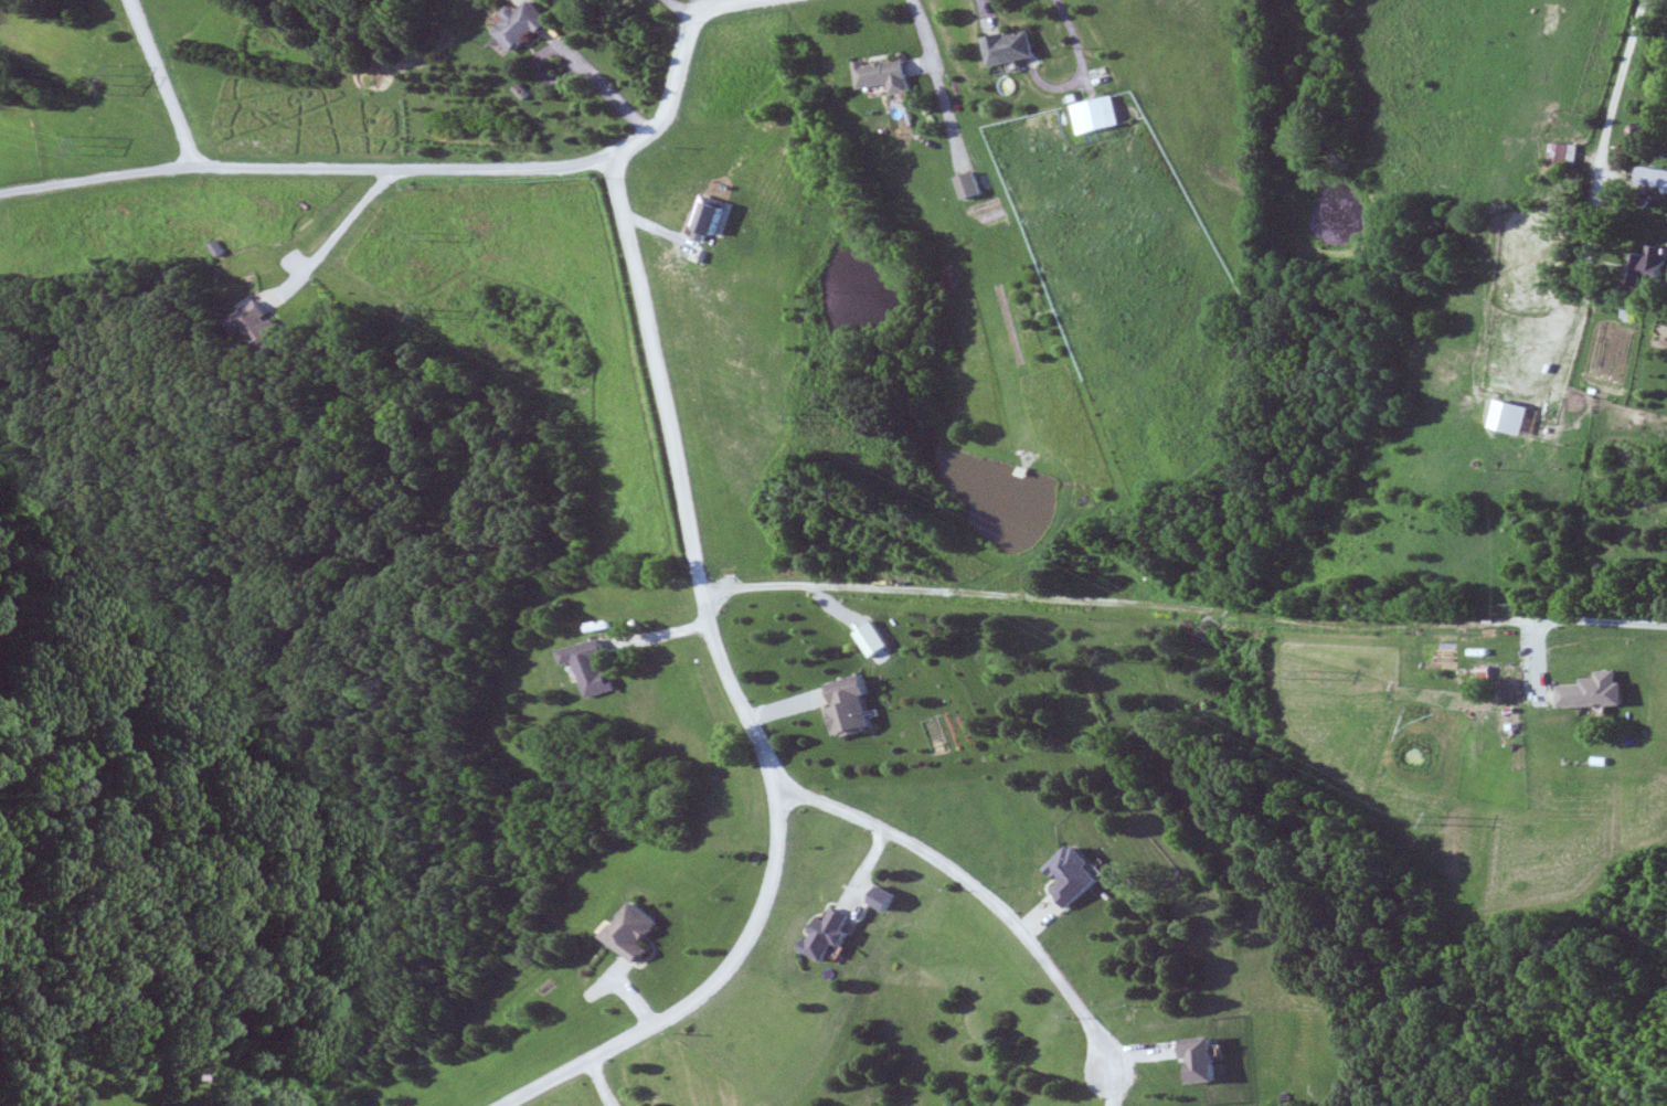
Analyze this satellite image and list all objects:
building: (529, 28)
building: (1015, 47)
building: (890, 75)
road: (164, 82)
building: (1104, 114)
road: (1606, 134)
power tower: (88, 146)
building: (1565, 157)
road: (200, 166)
road: (530, 171)
building: (1654, 179)
building: (971, 187)
building: (1654, 266)
power tower: (423, 315)
building: (264, 329)
power tower: (766, 481)
road: (1185, 607)
road: (666, 631)
building: (874, 639)
road: (1536, 653)
power tower: (1109, 656)
building: (596, 667)
building: (1594, 691)
road: (741, 699)
building: (853, 705)
road: (785, 709)
power tower: (1440, 819)
building: (1075, 875)
road: (977, 891)
building: (886, 898)
building: (645, 933)
building: (829, 935)
building: (1202, 1059)

